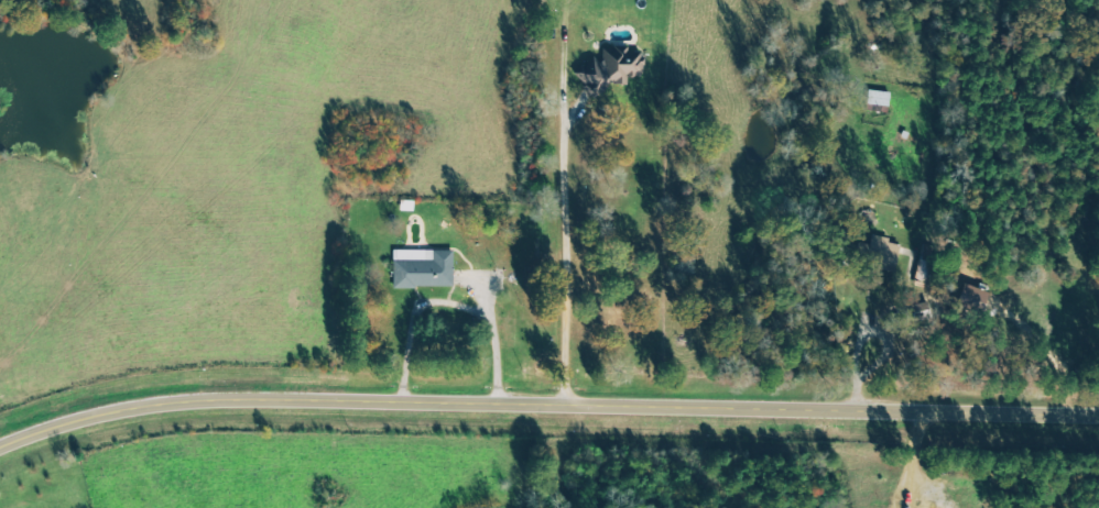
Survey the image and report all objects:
building: (611, 68)
building: (888, 255)
building: (425, 268)
road: (546, 399)

